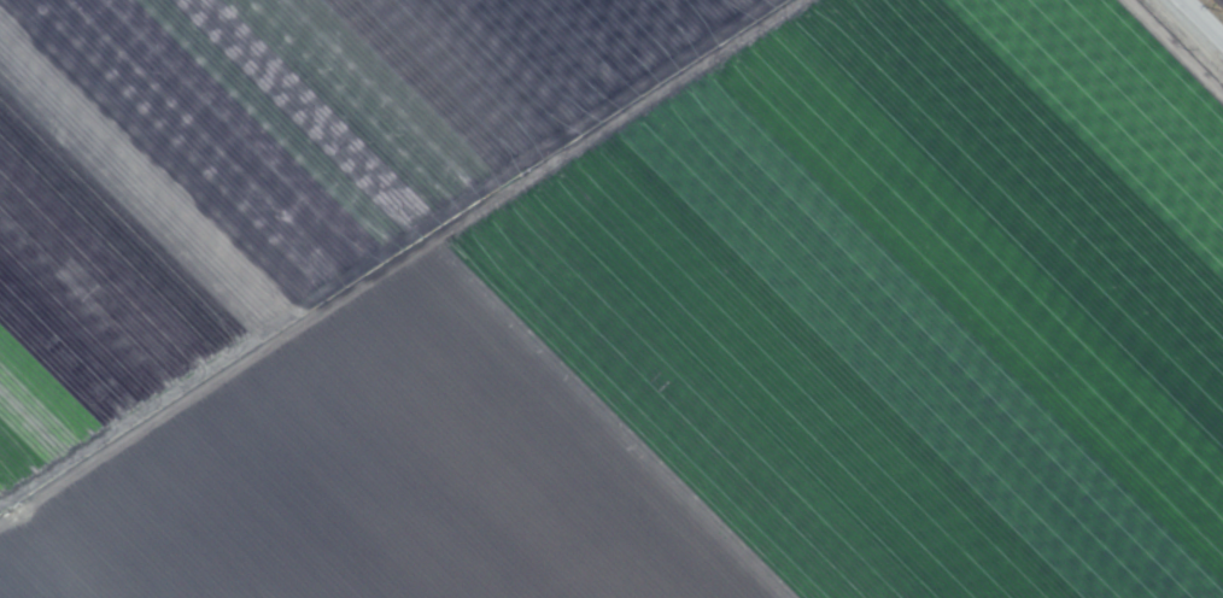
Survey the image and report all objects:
crop: (1221, 1)
road: (1202, 18)
crop: (607, 300)

